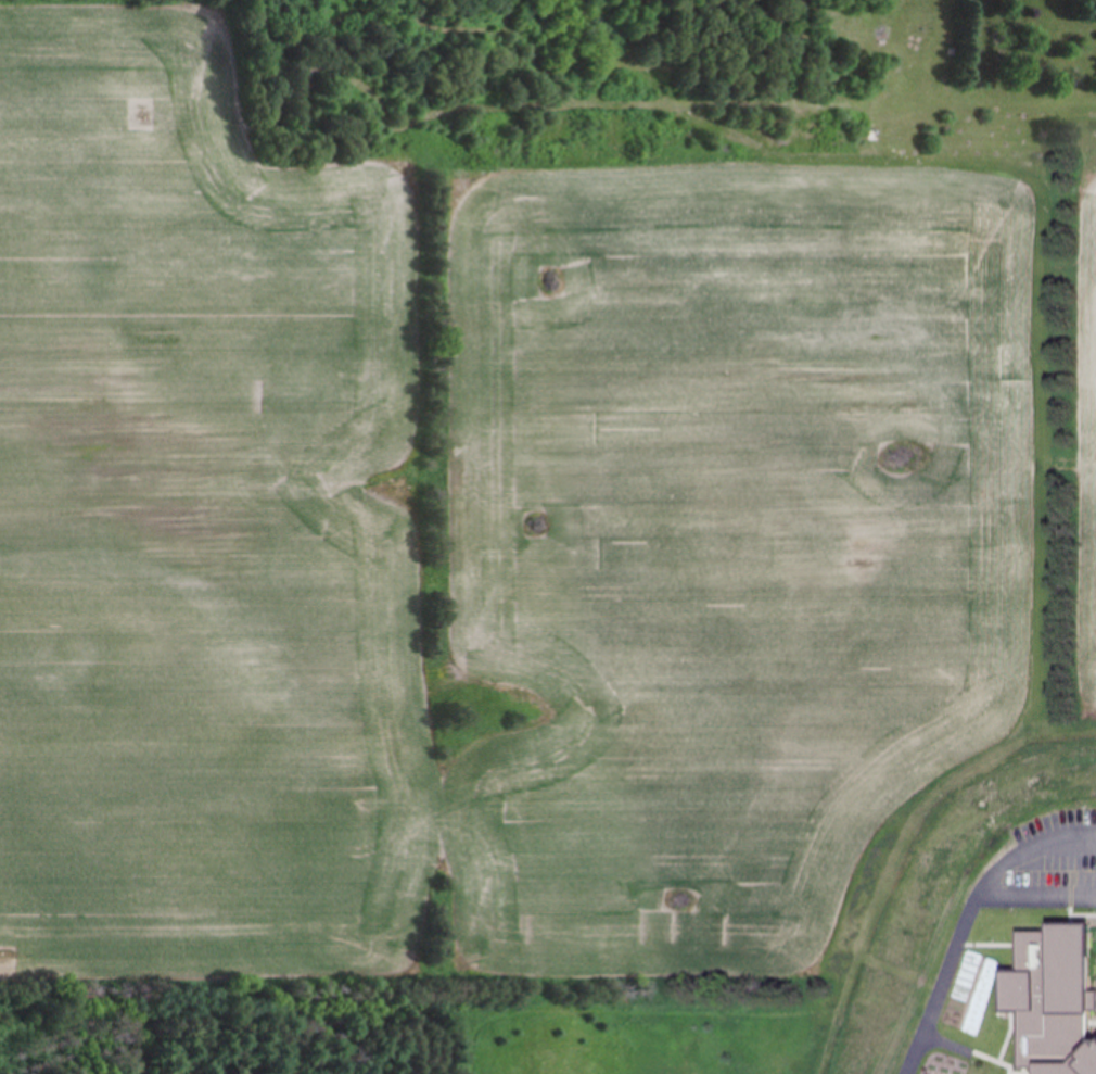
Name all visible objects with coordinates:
parking lot: (1037, 860)
road: (1029, 894)
road: (953, 910)
building: (1048, 1000)

